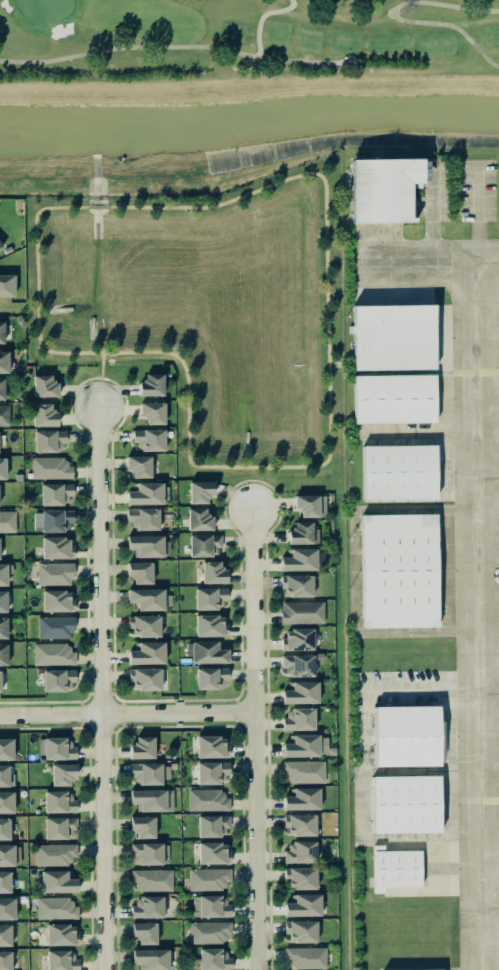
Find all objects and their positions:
park: (250, 39)
park: (254, 40)
building: (381, 188)
road: (96, 206)
road: (431, 210)
road: (475, 211)
building: (1, 245)
building: (8, 249)
airport taxiway: (427, 261)
road: (427, 261)
building: (6, 285)
road: (36, 314)
building: (1, 331)
building: (391, 336)
road: (326, 341)
road: (100, 379)
building: (151, 384)
building: (44, 386)
building: (2, 388)
building: (391, 398)
building: (153, 412)
building: (44, 415)
building: (1, 438)
building: (149, 438)
building: (48, 440)
building: (139, 466)
building: (2, 467)
building: (50, 467)
building: (397, 471)
airport taxiway: (488, 476)
road: (488, 476)
building: (200, 491)
building: (55, 493)
building: (147, 493)
building: (307, 505)
building: (143, 518)
building: (199, 519)
building: (52, 520)
building: (7, 521)
building: (302, 533)
building: (146, 545)
building: (204, 545)
building: (57, 547)
airport: (421, 555)
building: (299, 559)
building: (396, 570)
building: (140, 572)
building: (213, 572)
building: (54, 573)
building: (3, 574)
building: (297, 585)
building: (210, 597)
building: (146, 598)
building: (57, 600)
building: (3, 601)
building: (302, 612)
airport taxiway: (478, 615)
road: (478, 615)
building: (145, 625)
building: (210, 625)
building: (3, 627)
building: (55, 627)
building: (298, 639)
building: (206, 652)
building: (53, 653)
building: (147, 653)
building: (3, 654)
building: (297, 665)
building: (210, 677)
building: (145, 678)
building: (57, 679)
building: (0, 684)
road: (100, 688)
airport taxiway: (489, 691)
road: (489, 691)
building: (301, 693)
road: (126, 714)
building: (299, 719)
building: (405, 734)
road: (254, 738)
building: (305, 745)
building: (212, 746)
building: (142, 747)
building: (6, 748)
building: (56, 748)
building: (304, 771)
building: (211, 772)
building: (63, 773)
building: (148, 773)
building: (6, 774)
building: (152, 799)
building: (207, 799)
building: (302, 799)
building: (6, 801)
building: (59, 801)
building: (402, 803)
building: (299, 824)
building: (212, 825)
building: (59, 826)
building: (142, 826)
building: (4, 828)
building: (213, 852)
building: (300, 852)
building: (54, 853)
building: (149, 853)
building: (6, 855)
building: (394, 867)
building: (300, 877)
building: (208, 878)
building: (152, 879)
building: (4, 881)
building: (57, 881)
building: (303, 905)
building: (147, 906)
building: (210, 906)
airport taxiway: (490, 906)
road: (490, 906)
building: (55, 907)
building: (7, 908)
building: (208, 931)
building: (300, 931)
building: (144, 932)
building: (5, 934)
building: (61, 934)
building: (306, 957)
building: (151, 958)
building: (213, 959)
building: (5, 960)
building: (61, 960)
building: (418, 969)

